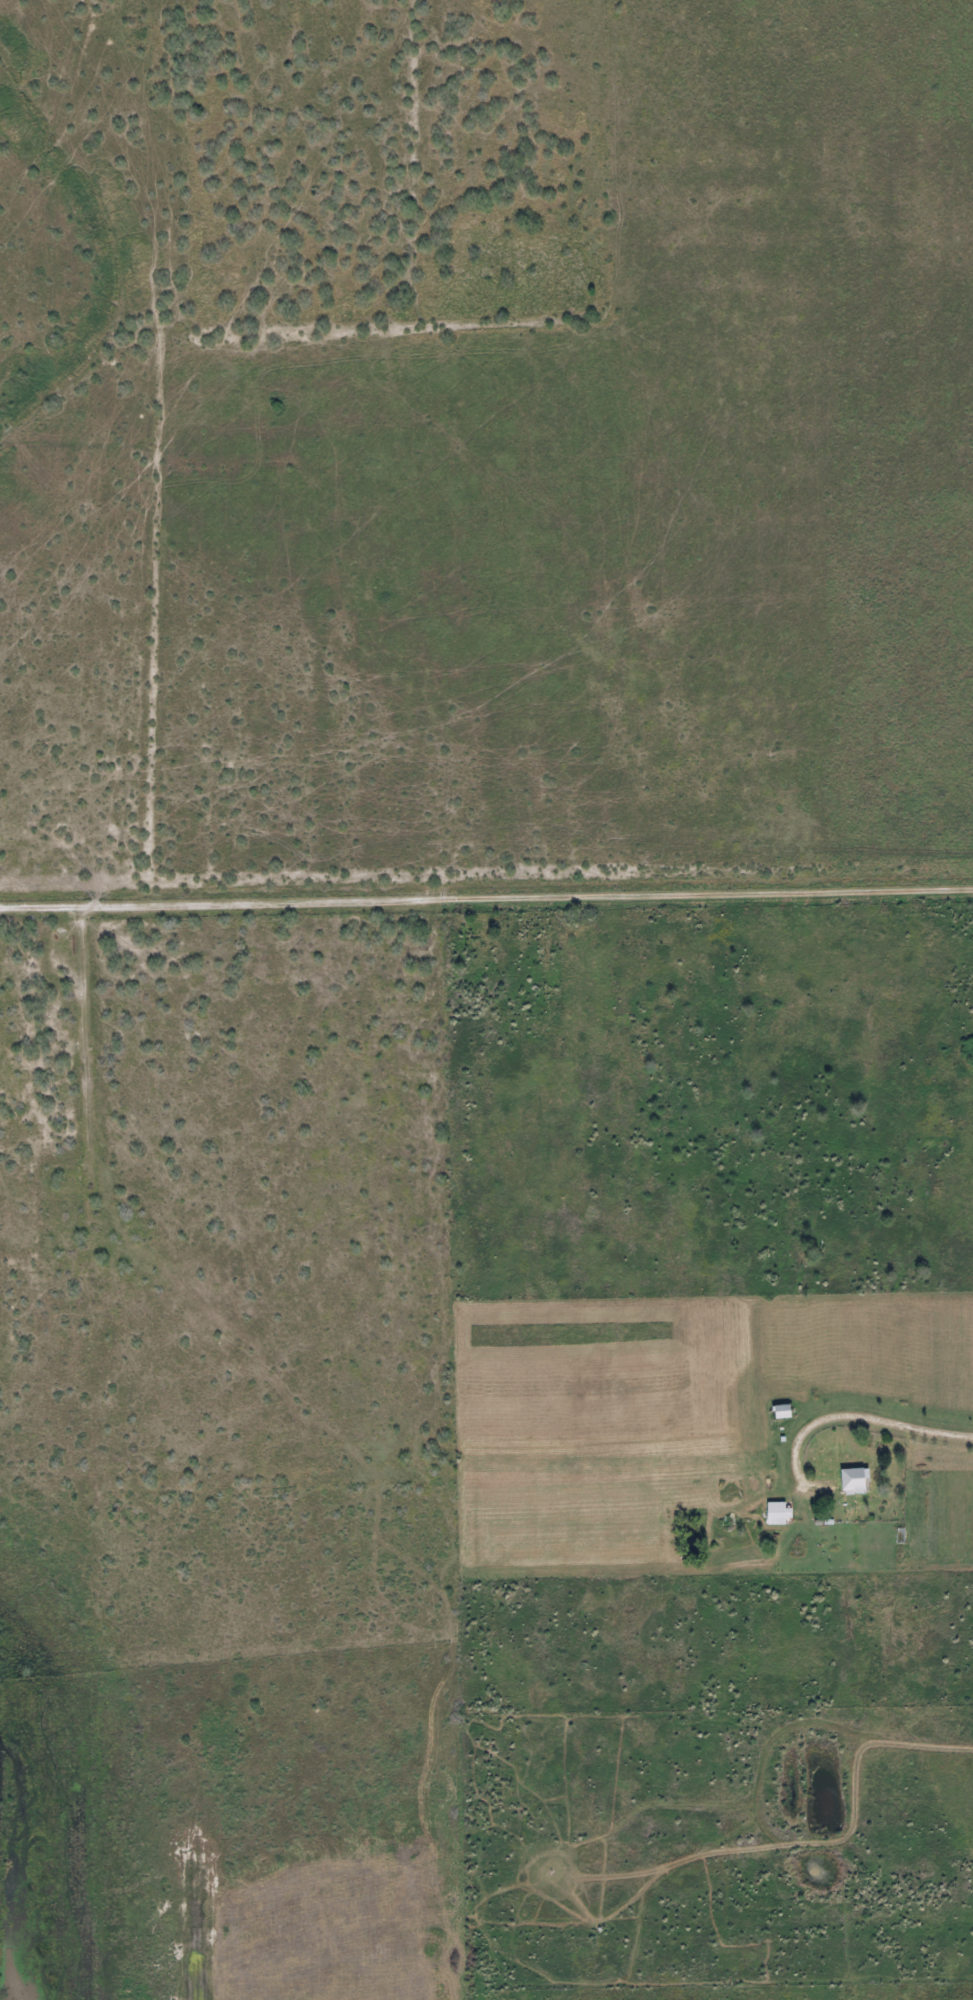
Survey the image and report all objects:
road: (845, 1401)
building: (784, 1412)
building: (855, 1481)
building: (780, 1513)

